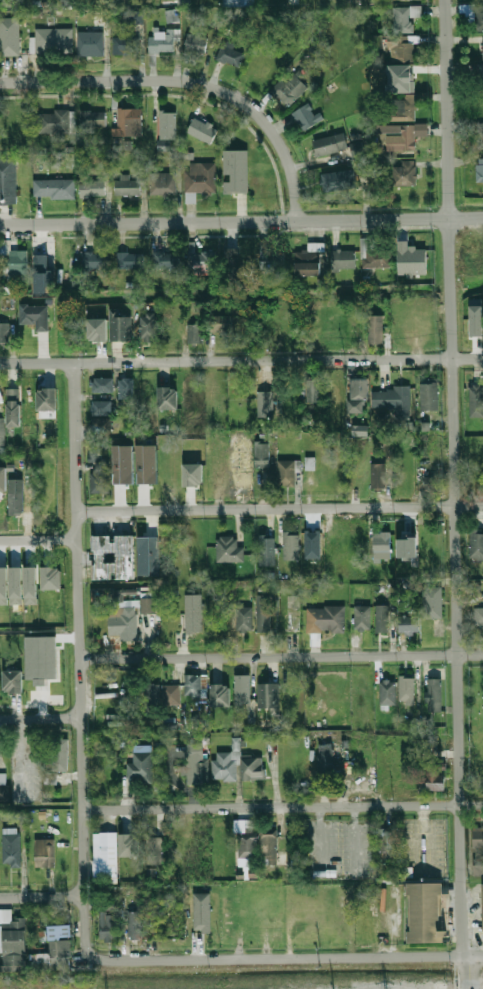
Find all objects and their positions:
building: (482, 0)
building: (183, 1)
building: (244, 3)
building: (171, 15)
building: (134, 17)
building: (477, 17)
building: (403, 18)
building: (9, 36)
building: (53, 41)
building: (161, 42)
building: (90, 43)
building: (196, 44)
building: (126, 45)
building: (482, 46)
building: (400, 47)
building: (230, 54)
building: (259, 68)
building: (406, 77)
building: (481, 77)
road: (191, 83)
building: (289, 89)
building: (403, 108)
building: (307, 117)
building: (92, 120)
building: (53, 123)
building: (129, 123)
building: (166, 129)
building: (201, 130)
building: (480, 135)
building: (406, 136)
building: (121, 143)
building: (330, 144)
building: (480, 170)
building: (235, 171)
building: (405, 173)
building: (200, 179)
building: (8, 181)
building: (338, 181)
building: (163, 184)
building: (130, 186)
building: (54, 188)
building: (92, 189)
road: (465, 218)
road: (223, 221)
building: (374, 254)
building: (415, 257)
park: (472, 258)
building: (67, 259)
building: (42, 260)
building: (130, 260)
building: (271, 260)
building: (309, 260)
building: (343, 260)
building: (17, 262)
building: (94, 262)
building: (164, 262)
building: (201, 262)
building: (233, 265)
building: (475, 301)
building: (35, 316)
building: (475, 319)
building: (216, 325)
building: (428, 325)
building: (119, 326)
building: (148, 326)
building: (288, 328)
building: (376, 329)
building: (97, 330)
building: (5, 333)
building: (195, 334)
road: (241, 361)
building: (103, 385)
building: (125, 388)
building: (313, 390)
building: (358, 395)
building: (430, 396)
building: (167, 397)
building: (46, 399)
building: (392, 399)
building: (476, 401)
building: (269, 404)
building: (12, 407)
building: (102, 408)
building: (105, 422)
building: (1, 432)
building: (428, 443)
building: (262, 454)
building: (310, 463)
building: (430, 463)
building: (122, 464)
building: (146, 464)
building: (286, 473)
building: (192, 474)
building: (358, 475)
building: (379, 476)
building: (99, 477)
building: (2, 479)
building: (433, 484)
road: (455, 494)
road: (280, 507)
building: (15, 509)
building: (337, 537)
road: (39, 540)
building: (381, 542)
building: (310, 544)
building: (477, 544)
building: (291, 545)
building: (406, 546)
building: (267, 550)
building: (229, 551)
building: (148, 556)
building: (113, 558)
building: (50, 578)
building: (15, 585)
building: (30, 585)
building: (3, 586)
building: (431, 602)
building: (193, 613)
building: (292, 613)
building: (127, 614)
building: (264, 614)
building: (479, 617)
building: (363, 618)
building: (244, 619)
building: (382, 619)
building: (325, 621)
building: (408, 624)
building: (172, 628)
road: (282, 656)
road: (81, 660)
building: (12, 681)
building: (38, 682)
building: (195, 687)
building: (407, 690)
building: (242, 692)
building: (388, 692)
building: (170, 694)
building: (219, 695)
building: (435, 695)
building: (268, 697)
building: (151, 699)
road: (41, 718)
building: (60, 755)
building: (326, 761)
building: (393, 764)
building: (237, 765)
building: (140, 767)
building: (198, 769)
building: (2, 778)
building: (436, 778)
road: (283, 807)
building: (128, 844)
building: (386, 844)
building: (247, 847)
building: (270, 849)
building: (12, 850)
building: (154, 850)
building: (478, 852)
building: (45, 853)
building: (105, 856)
road: (42, 897)
building: (482, 903)
building: (426, 913)
building: (107, 920)
building: (201, 921)
building: (136, 925)
building: (12, 942)
building: (54, 950)
road: (287, 959)

